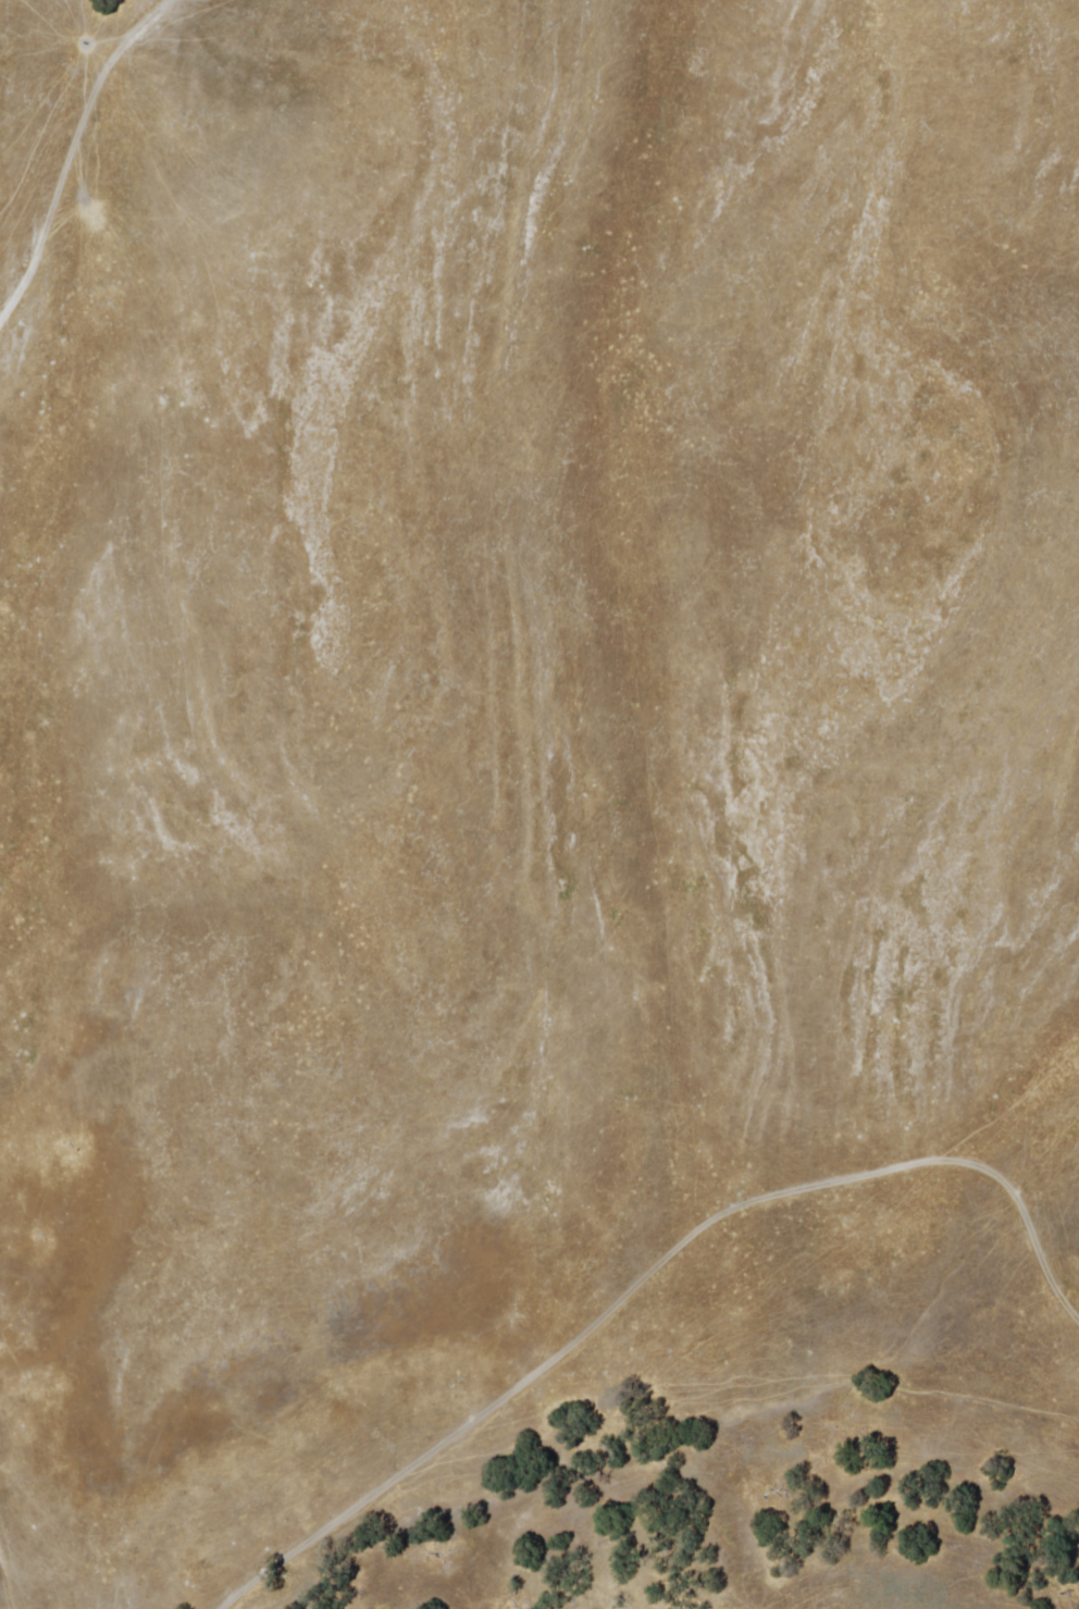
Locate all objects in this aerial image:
road: (89, 158)

